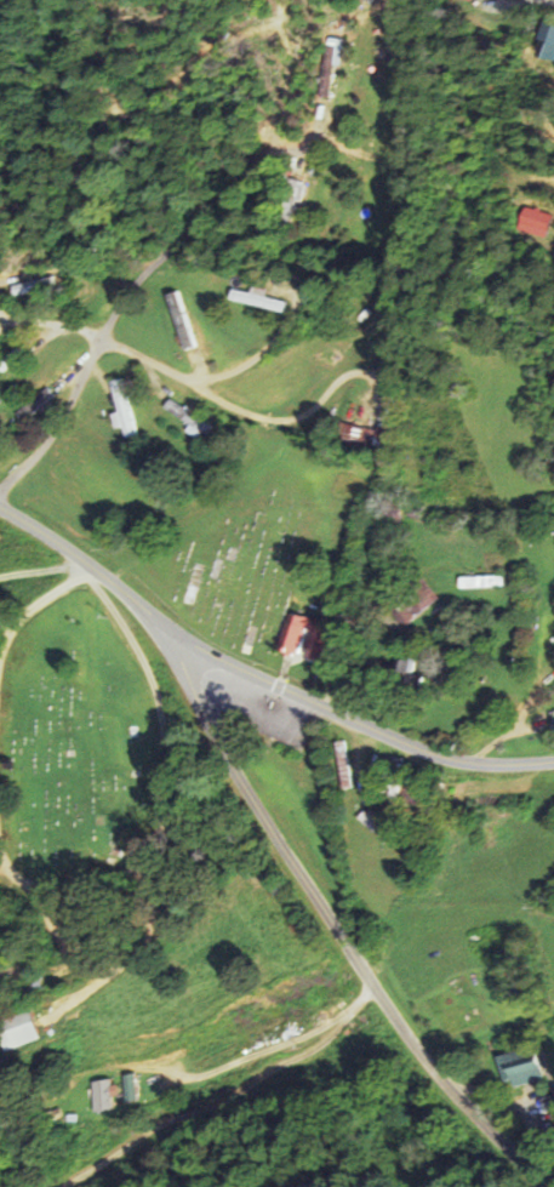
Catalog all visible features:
road: (544, 179)
road: (118, 302)
road: (253, 361)
road: (218, 398)
road: (79, 559)
building: (298, 641)
road: (347, 717)
building: (553, 719)
road: (325, 917)
building: (18, 1031)
road: (270, 1049)
building: (519, 1068)
building: (127, 1088)
building: (102, 1095)
road: (225, 1098)

